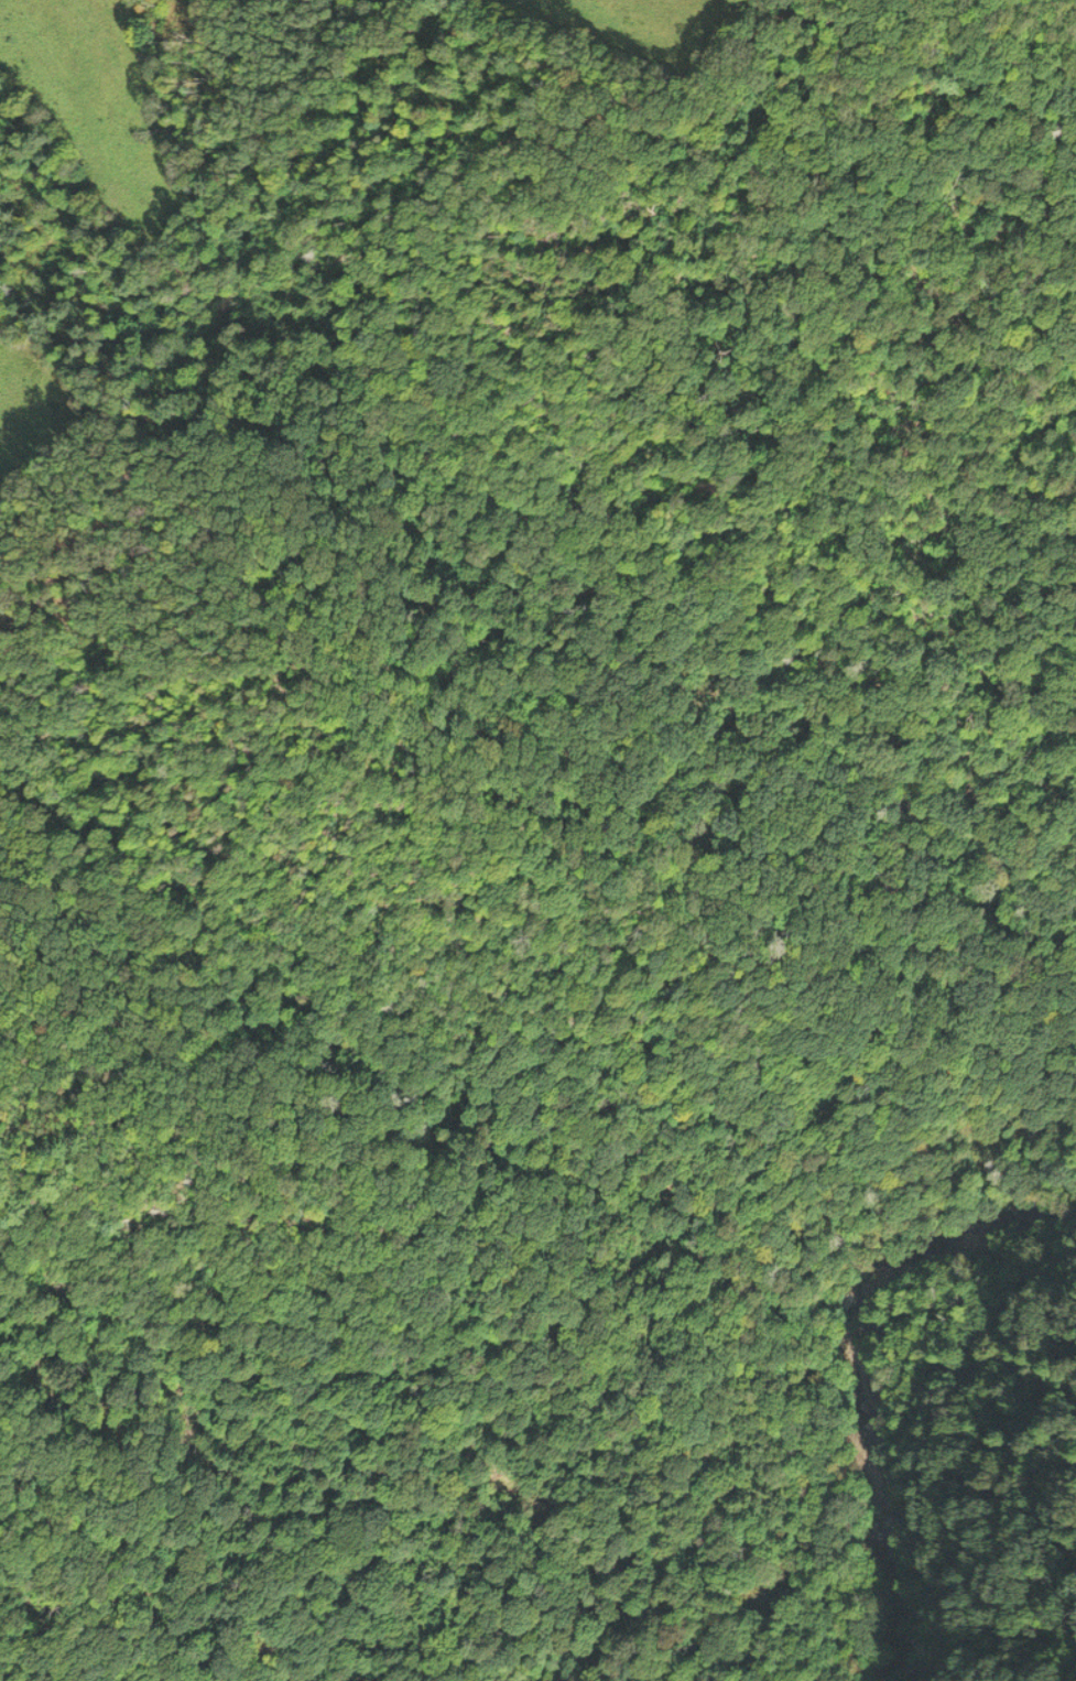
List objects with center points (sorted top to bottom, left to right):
road: (925, 1436)

